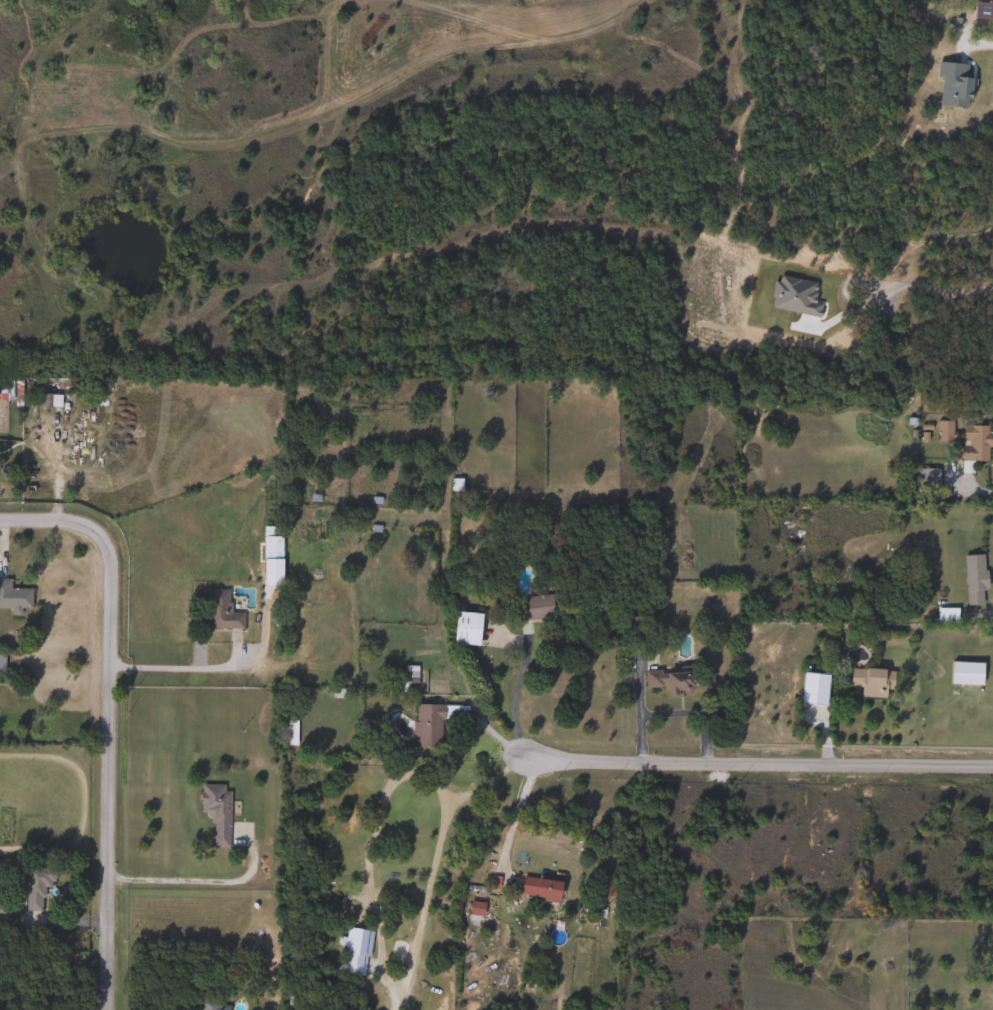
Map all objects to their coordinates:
road: (979, 44)
building: (952, 84)
road: (930, 288)
building: (47, 400)
building: (964, 441)
building: (925, 480)
road: (964, 491)
building: (270, 542)
building: (972, 580)
building: (13, 596)
building: (533, 607)
road: (988, 610)
building: (218, 611)
building: (465, 629)
road: (183, 668)
building: (964, 674)
building: (668, 681)
building: (870, 681)
building: (807, 682)
road: (515, 690)
road: (669, 712)
road: (108, 718)
building: (426, 727)
road: (757, 766)
road: (503, 767)
building: (214, 810)
road: (199, 873)
road: (426, 885)
building: (34, 886)
building: (538, 888)
building: (473, 908)
building: (355, 941)
building: (203, 1003)

